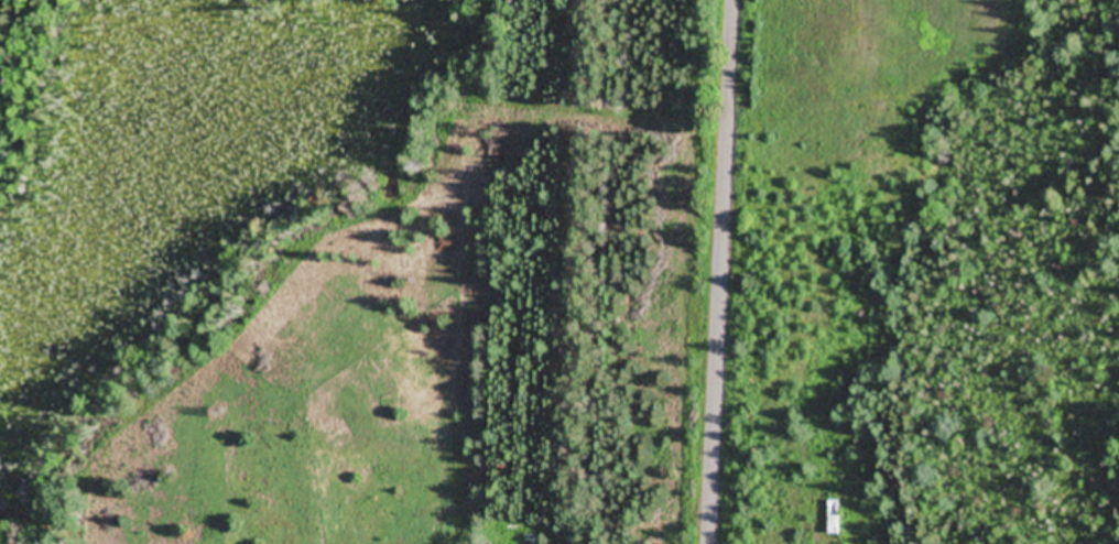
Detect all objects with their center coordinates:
road: (720, 272)
building: (835, 518)

